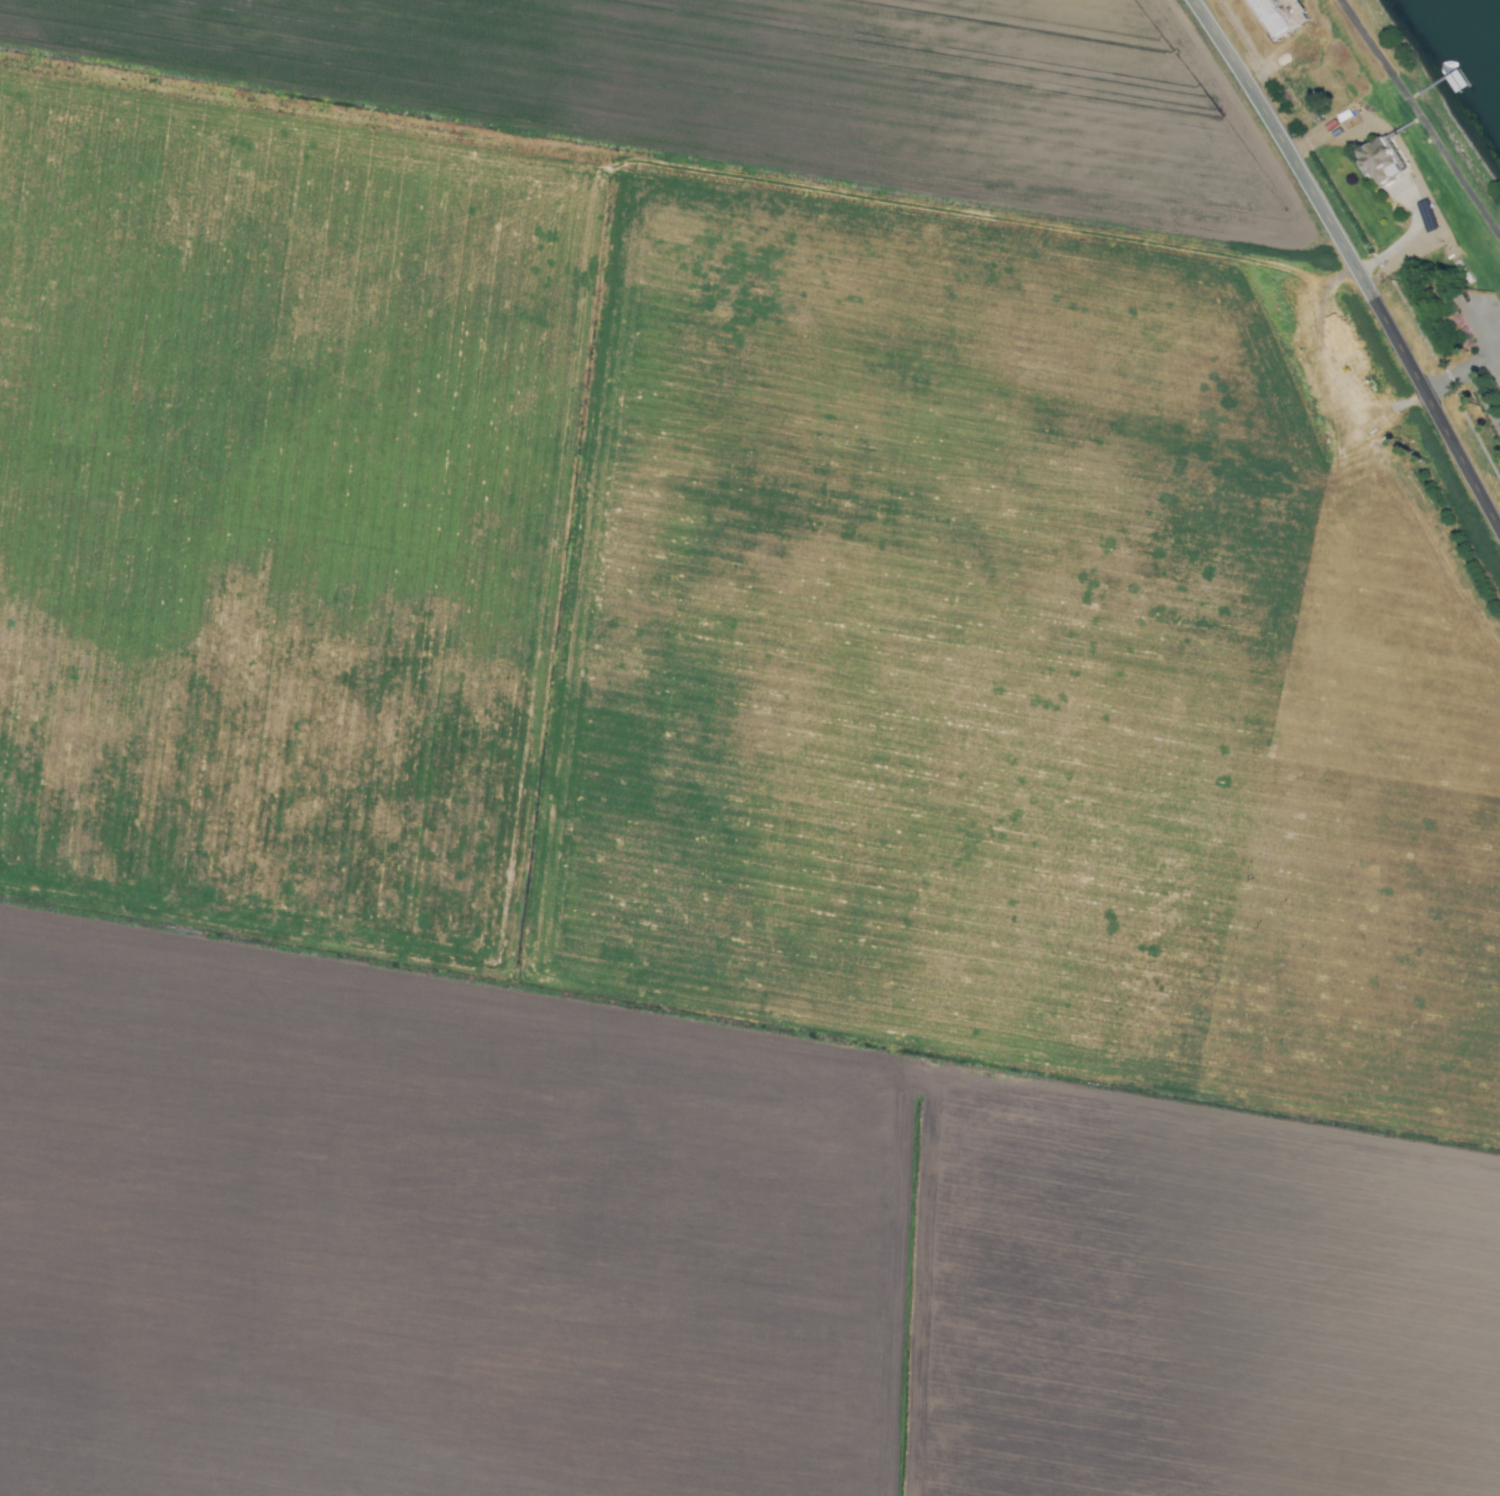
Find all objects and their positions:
building: (1272, 14)
building: (1373, 161)
road: (1403, 236)
road: (1353, 262)
road: (1472, 382)
crop: (717, 774)

